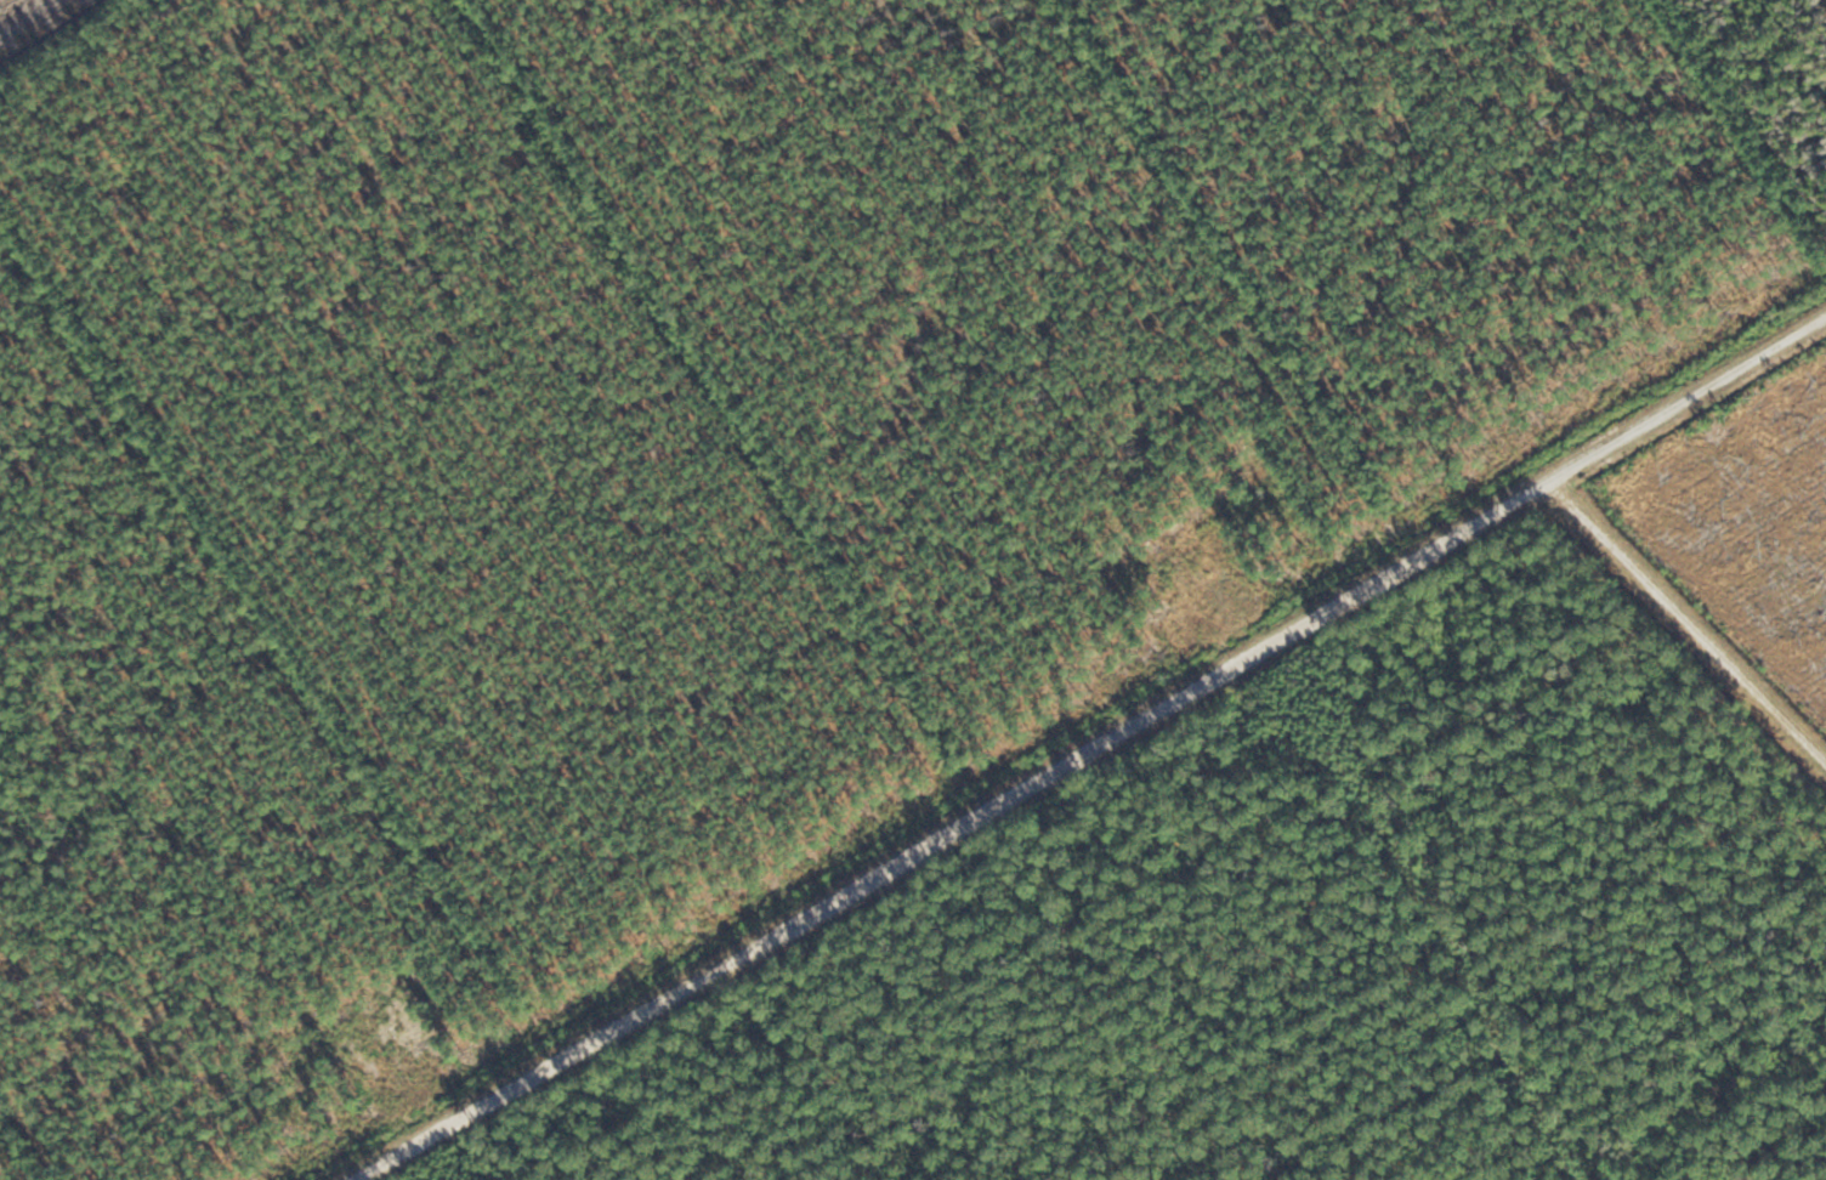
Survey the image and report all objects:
road: (1690, 619)
road: (1098, 751)

